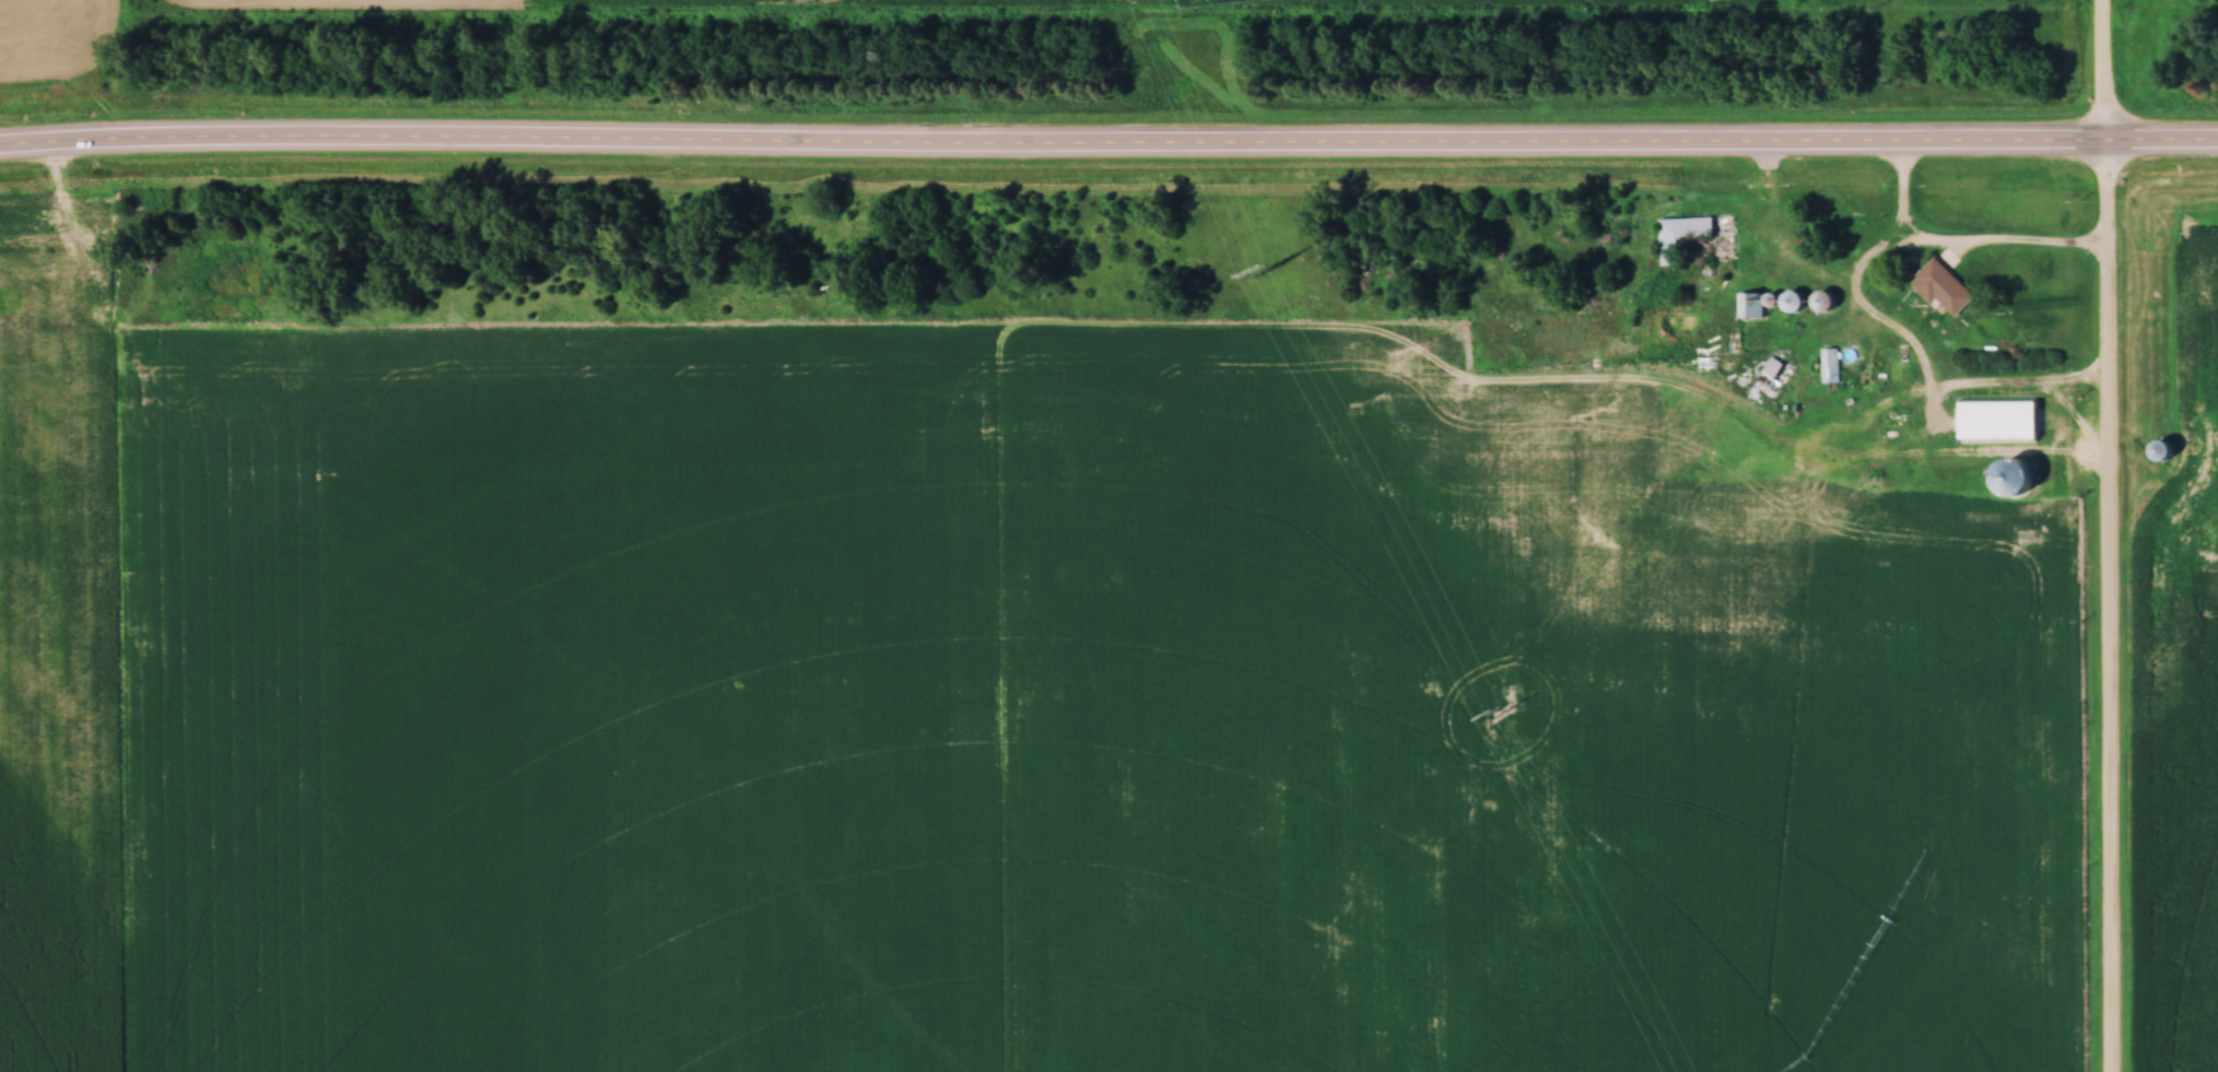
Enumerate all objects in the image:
road: (47, 143)
road: (1108, 144)
road: (1768, 209)
building: (1687, 235)
road: (2029, 243)
power tower: (1263, 275)
building: (1941, 290)
building: (1821, 303)
building: (1829, 361)
building: (1997, 422)
building: (2162, 453)
road: (2110, 535)
power tower: (1501, 716)

